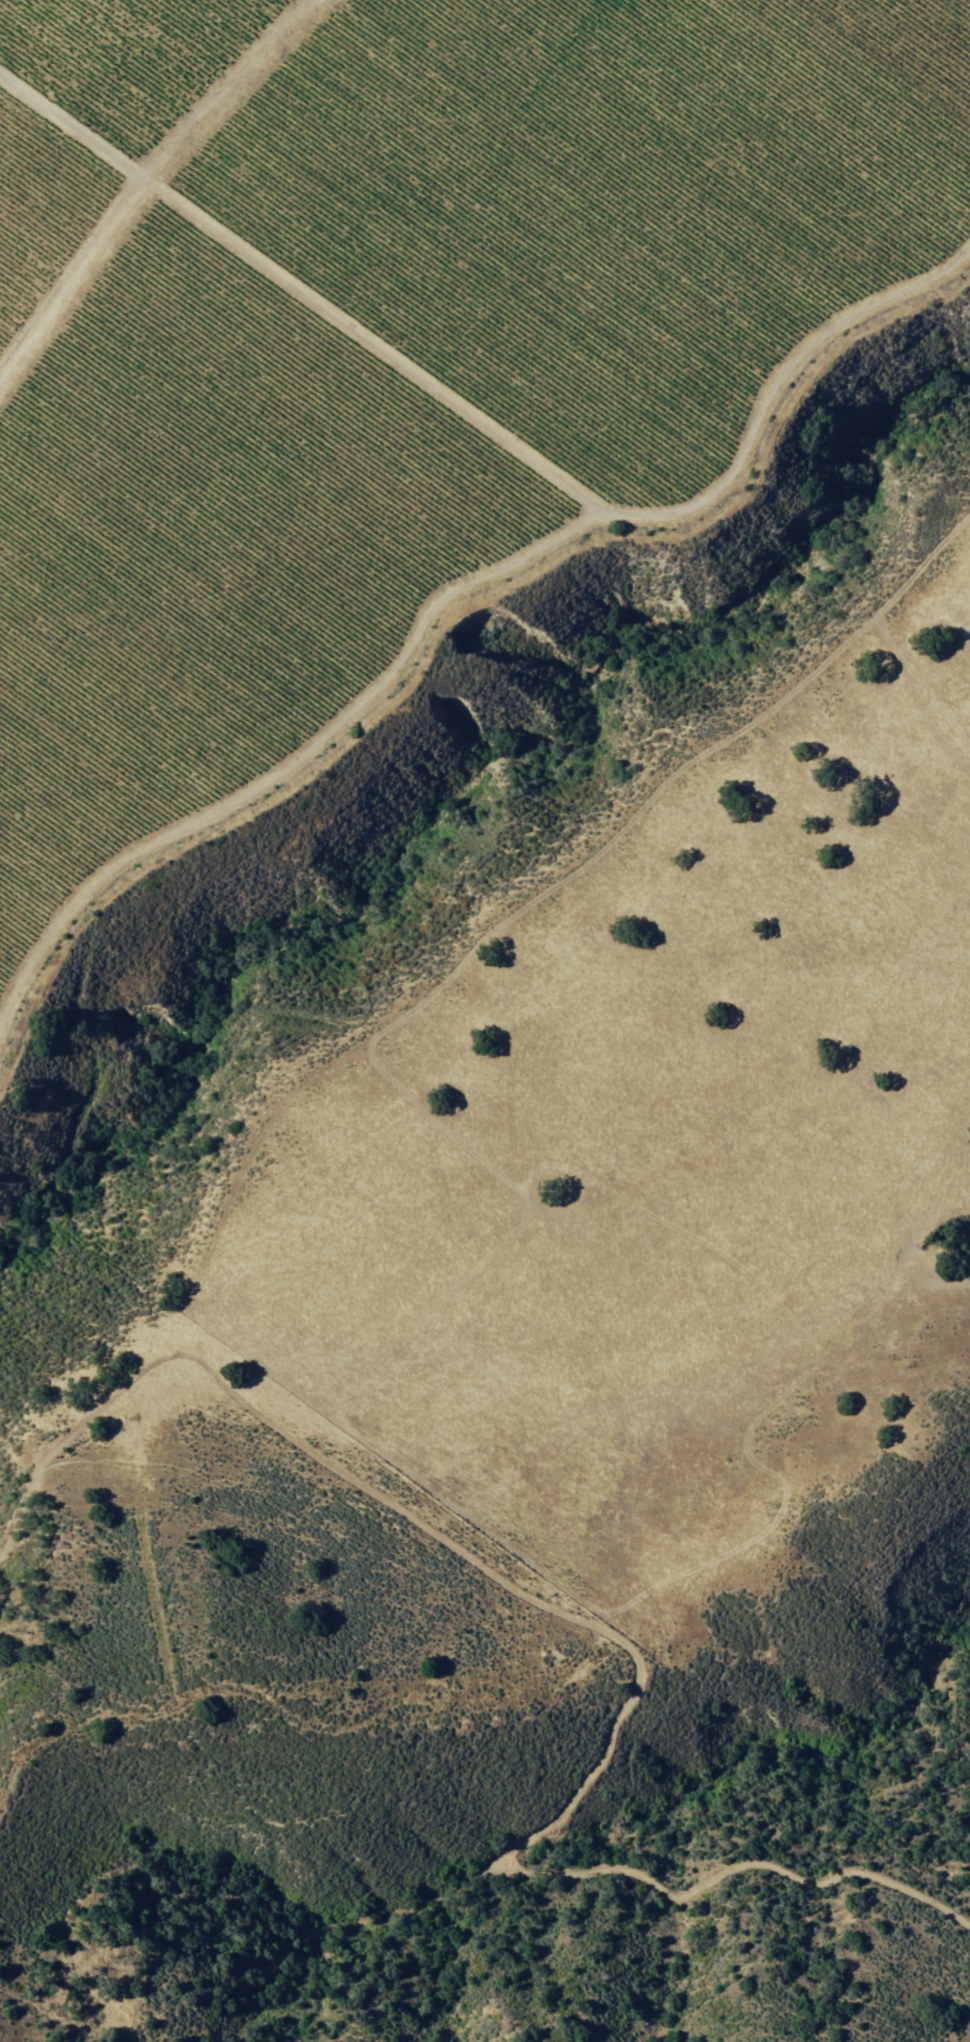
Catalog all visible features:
road: (515, 1656)

